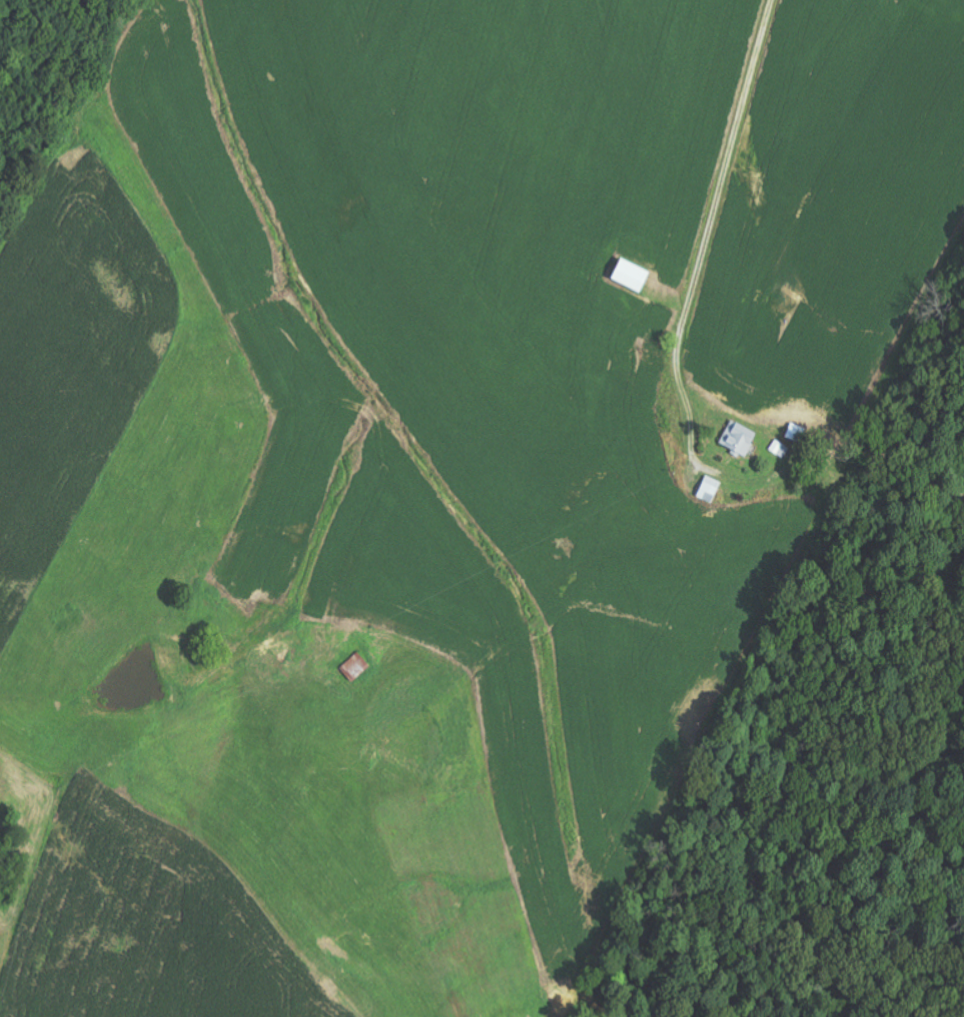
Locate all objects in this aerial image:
road: (709, 232)
building: (629, 277)
building: (738, 440)
building: (356, 666)

